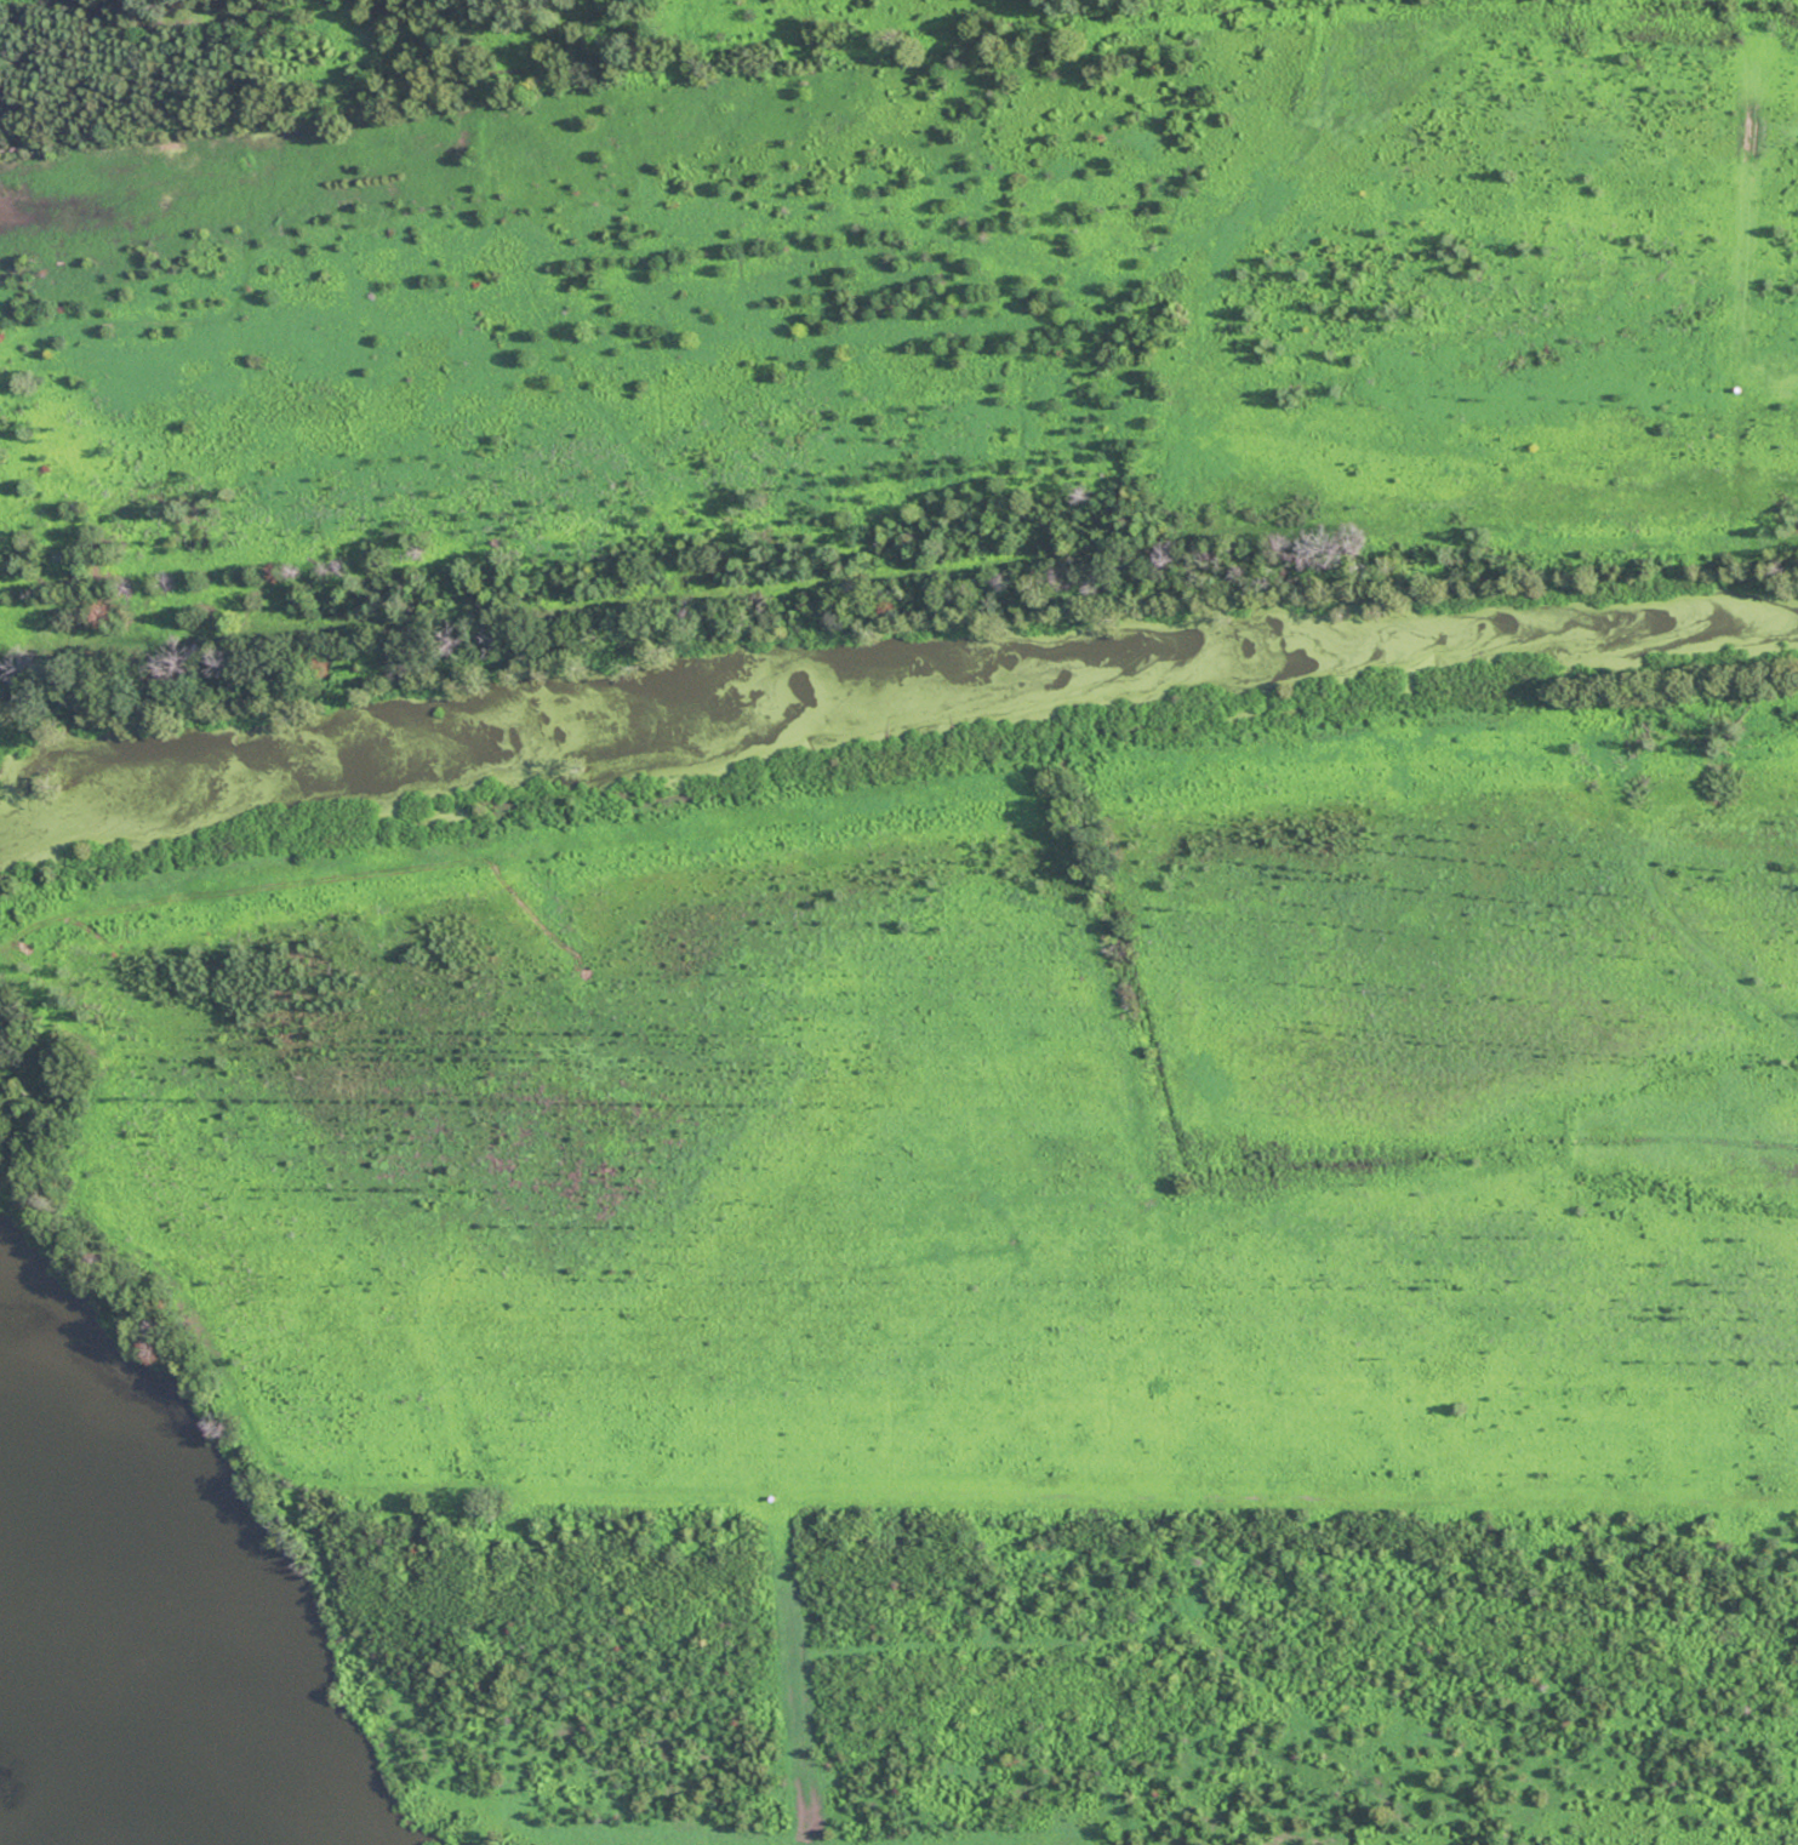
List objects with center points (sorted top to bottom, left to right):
road: (1676, 909)
road: (10, 978)

